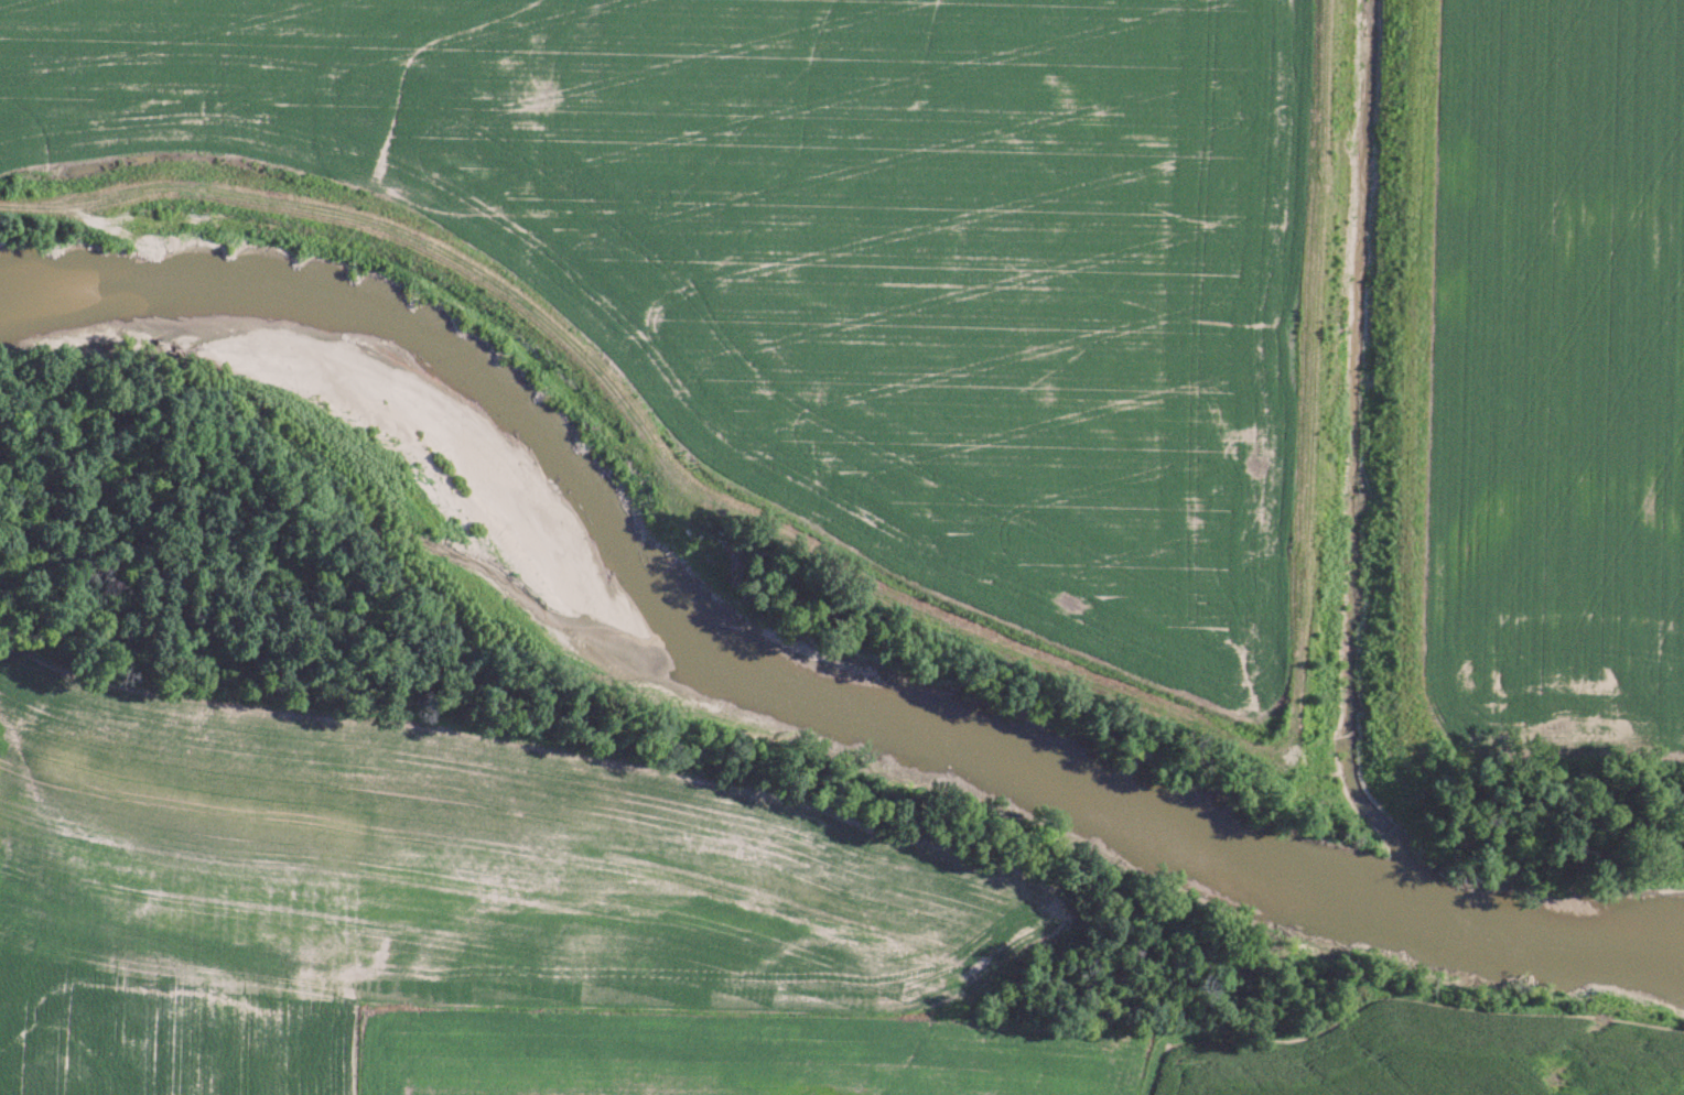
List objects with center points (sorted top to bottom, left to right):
river: (784, 677)

